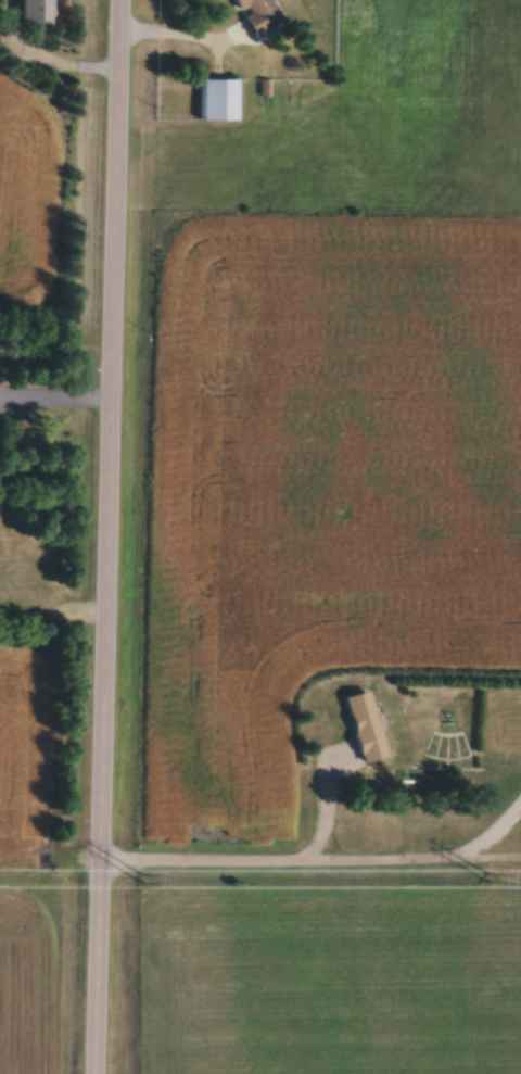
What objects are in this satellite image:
crop: (25, 204)
road: (106, 536)
crop: (25, 765)
road: (257, 859)
power tower: (144, 881)
power tower: (491, 881)
crop: (26, 984)

